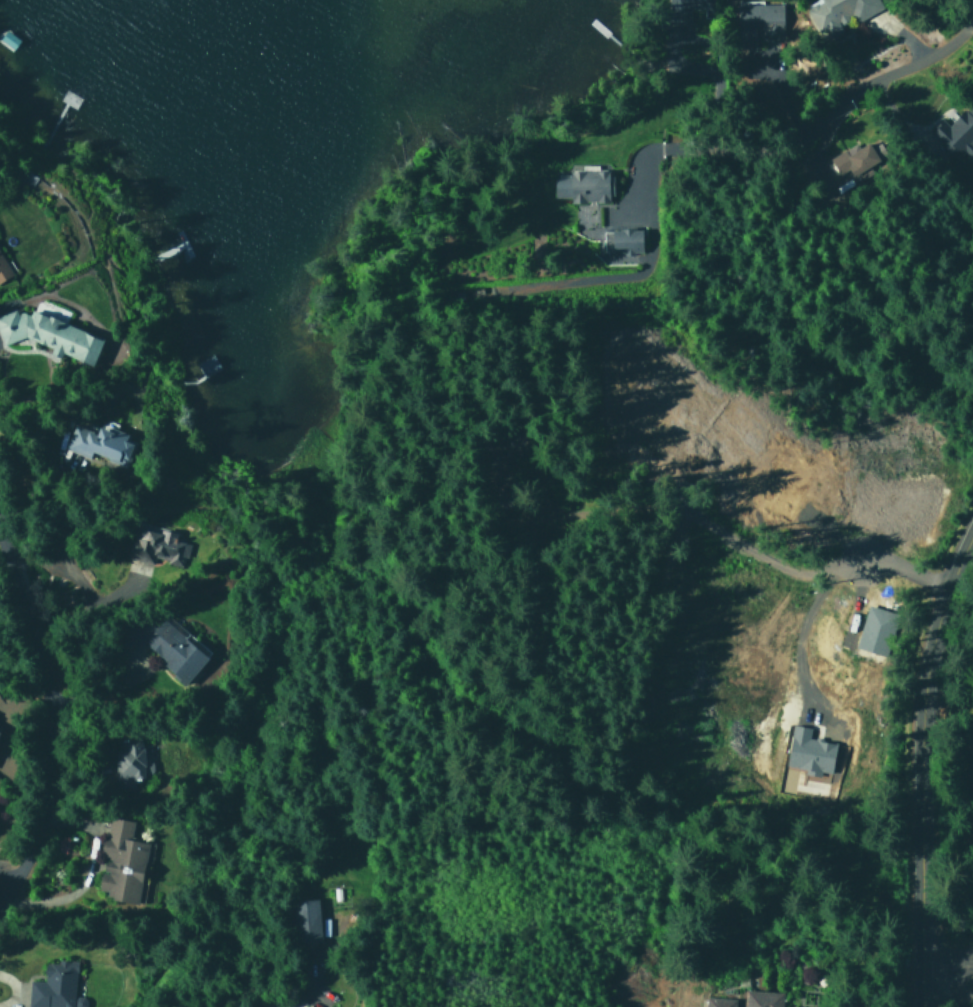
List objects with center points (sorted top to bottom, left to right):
building: (682, 3)
building: (840, 12)
building: (756, 21)
road: (890, 72)
building: (951, 136)
building: (848, 160)
building: (583, 186)
building: (620, 240)
building: (3, 269)
building: (49, 335)
building: (98, 443)
building: (499, 458)
building: (152, 549)
building: (875, 631)
building: (166, 646)
road: (50, 709)
building: (807, 752)
building: (128, 762)
road: (921, 763)
building: (120, 862)
road: (8, 868)
building: (305, 921)
building: (972, 967)
building: (54, 987)
building: (762, 999)
building: (718, 1002)
building: (302, 1006)

